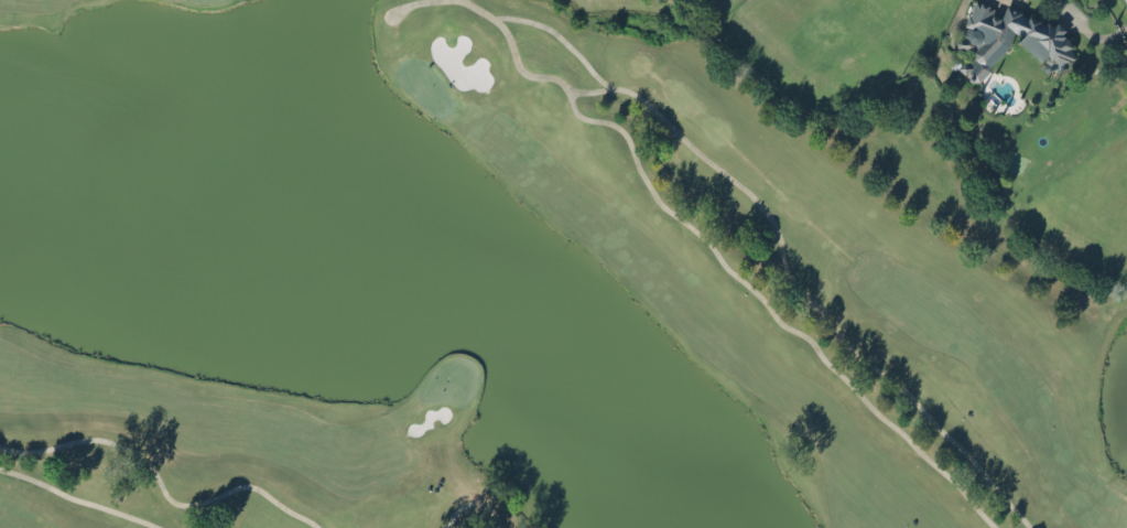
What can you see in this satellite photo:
building: (1043, 40)
park: (518, 282)

